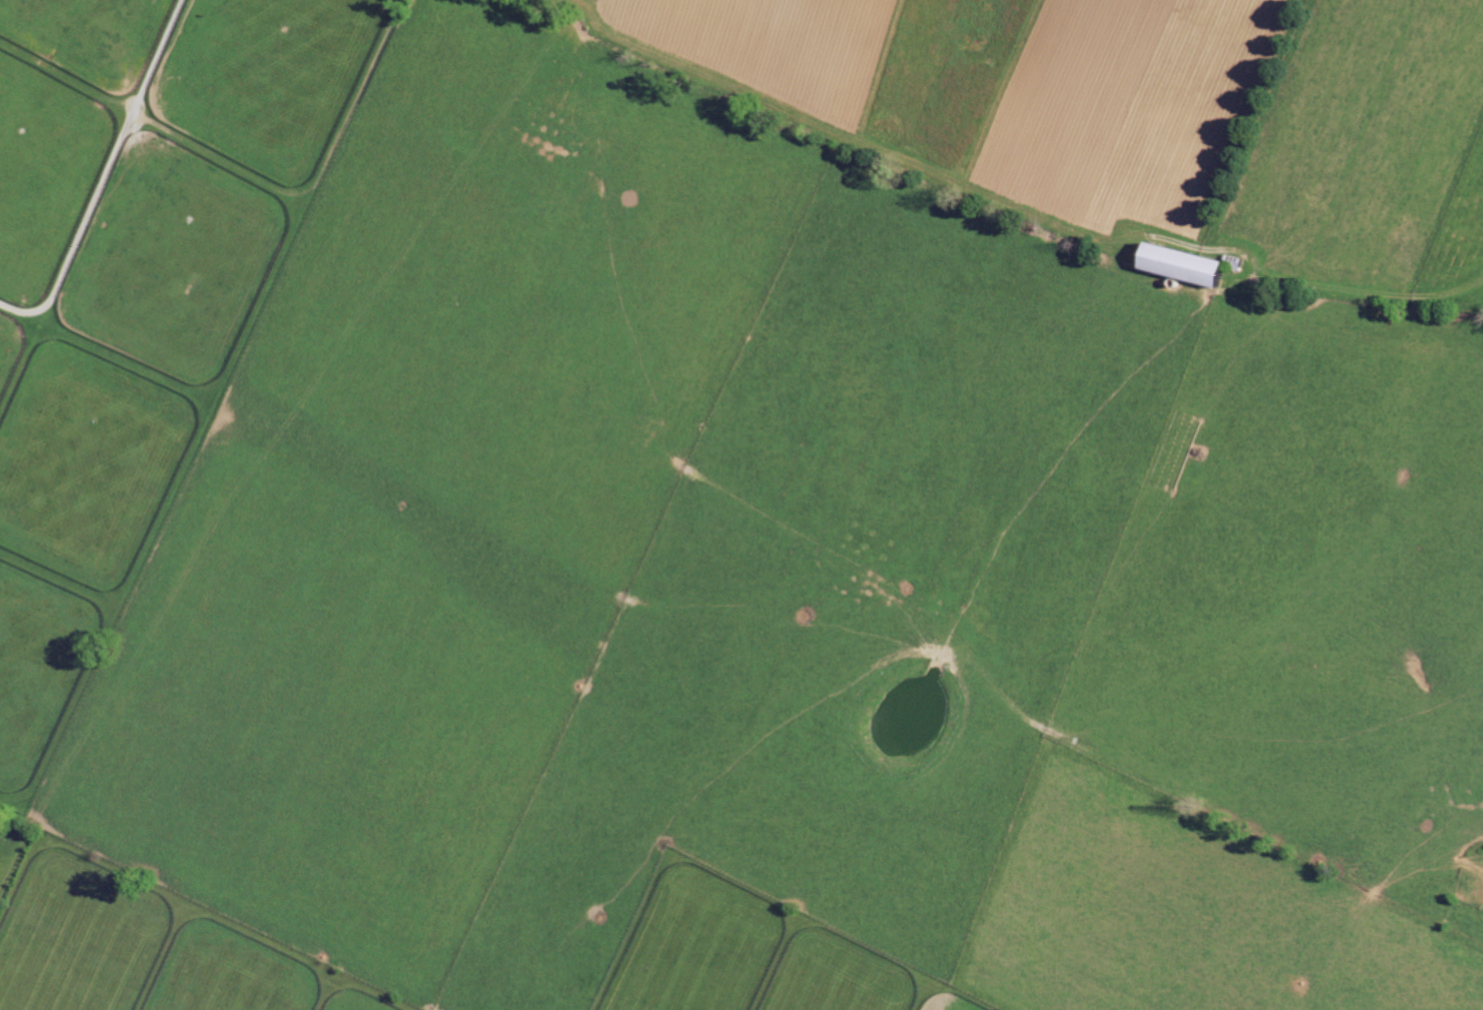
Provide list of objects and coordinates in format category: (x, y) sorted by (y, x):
building: (1193, 264)

